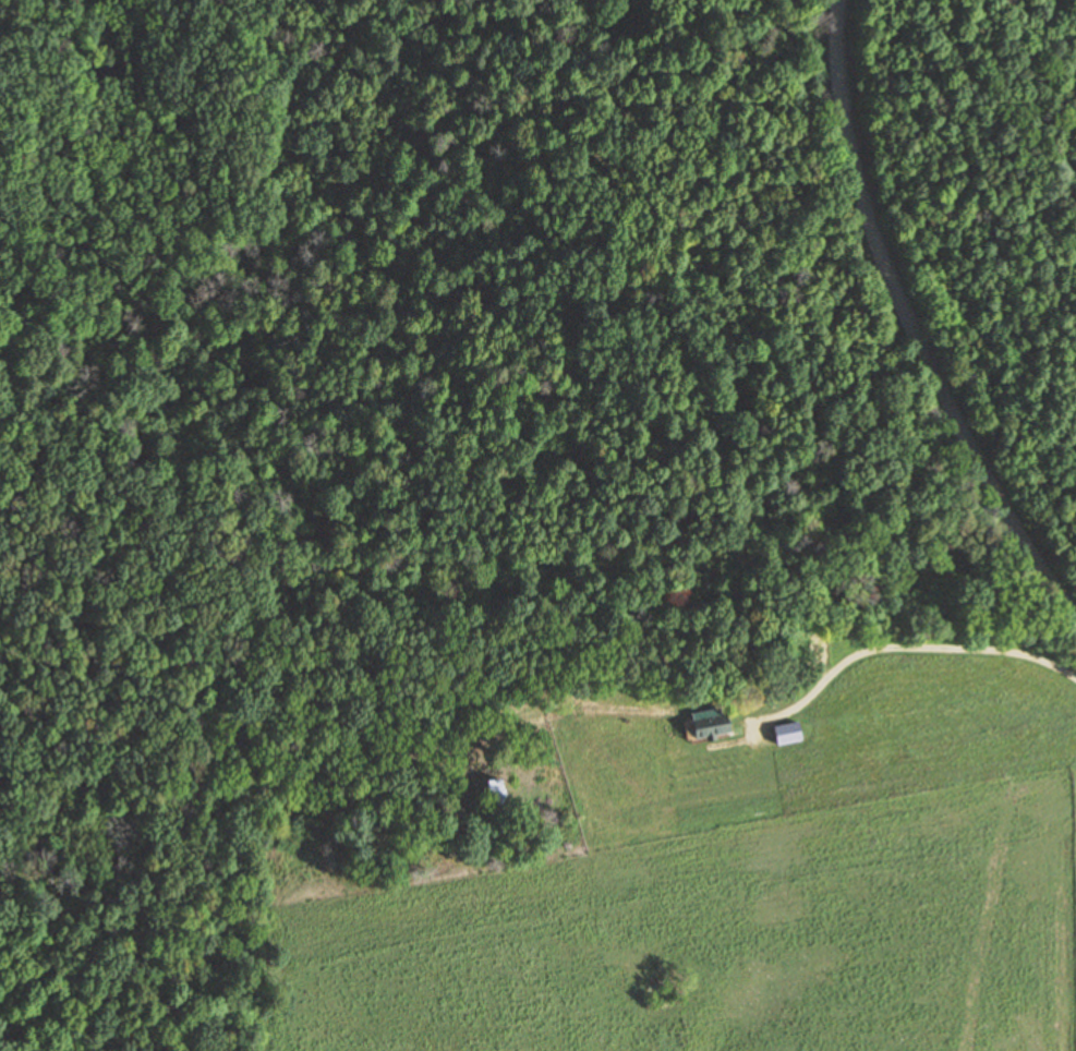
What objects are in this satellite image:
road: (900, 325)

